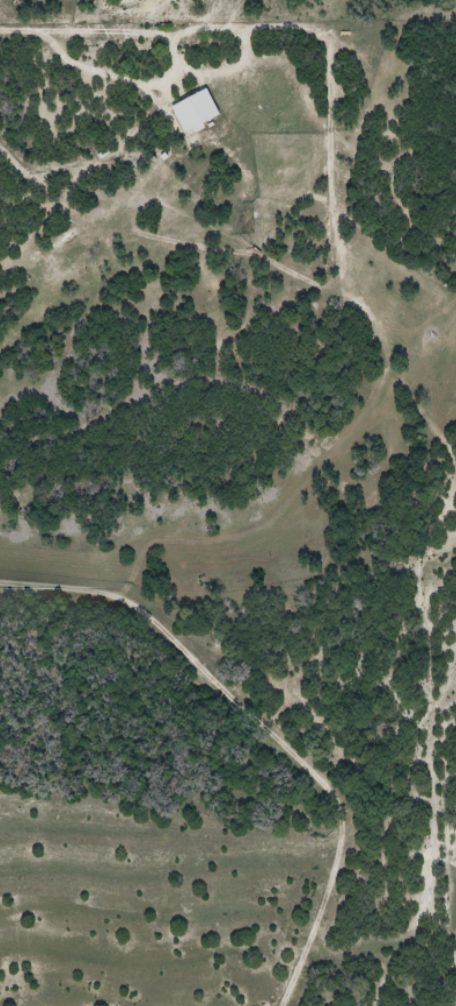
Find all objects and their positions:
building: (195, 110)
road: (267, 727)

